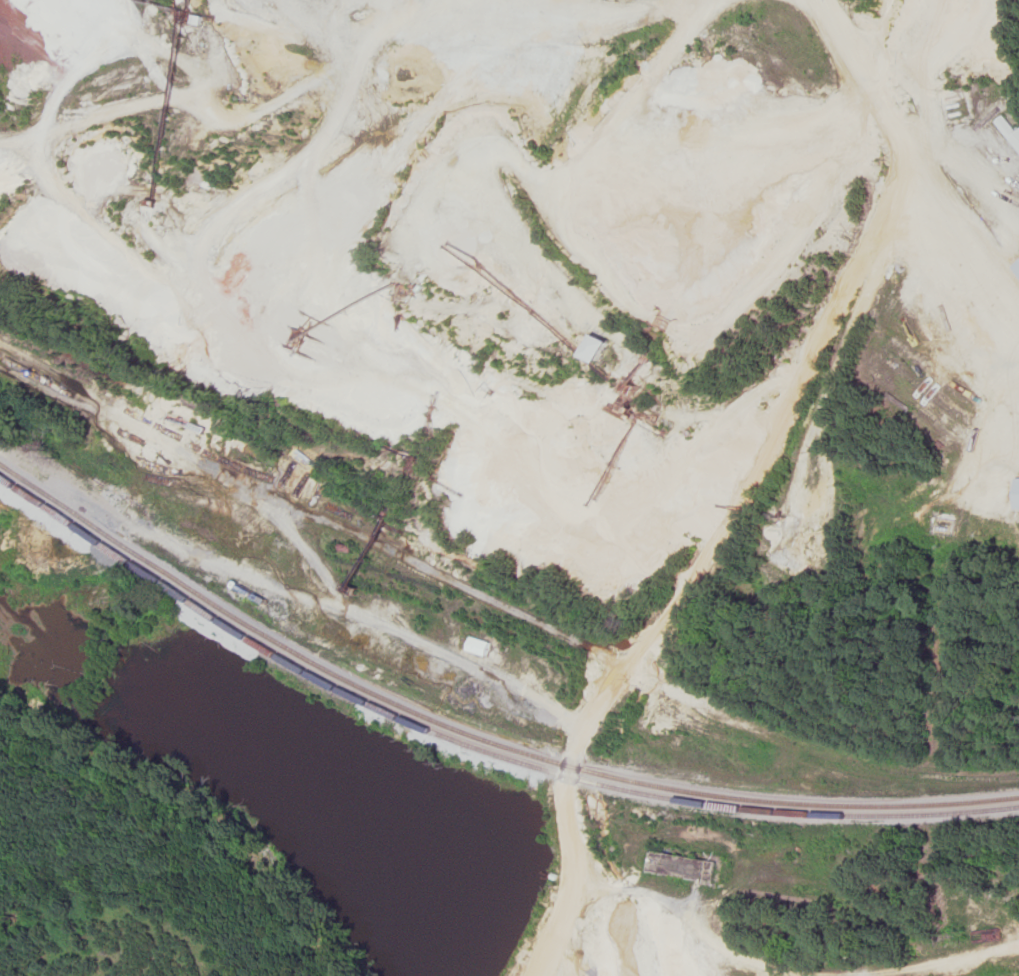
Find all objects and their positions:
road: (587, 15)
building: (1009, 132)
building: (1016, 269)
building: (596, 350)
building: (1017, 495)
railway: (141, 504)
road: (770, 511)
building: (479, 647)
railway: (476, 736)
railway: (477, 747)
building: (684, 867)

